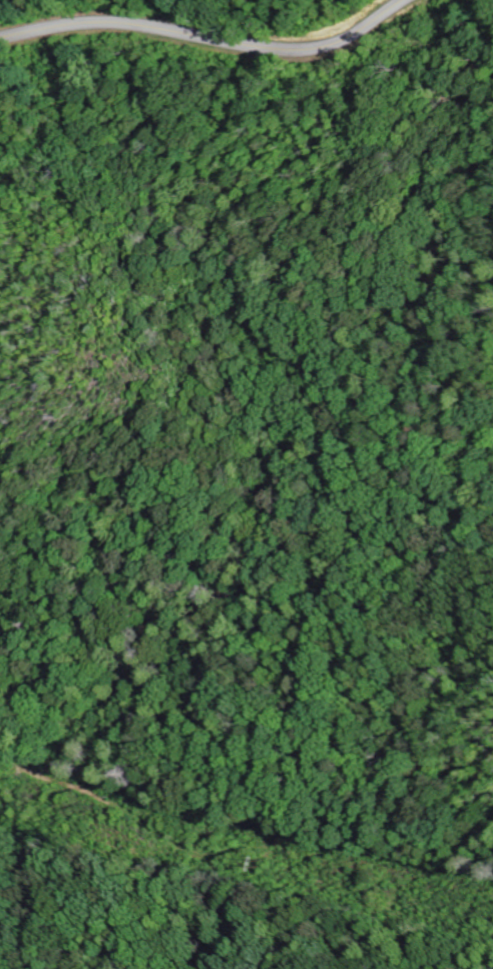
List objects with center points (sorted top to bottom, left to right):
road: (210, 39)

